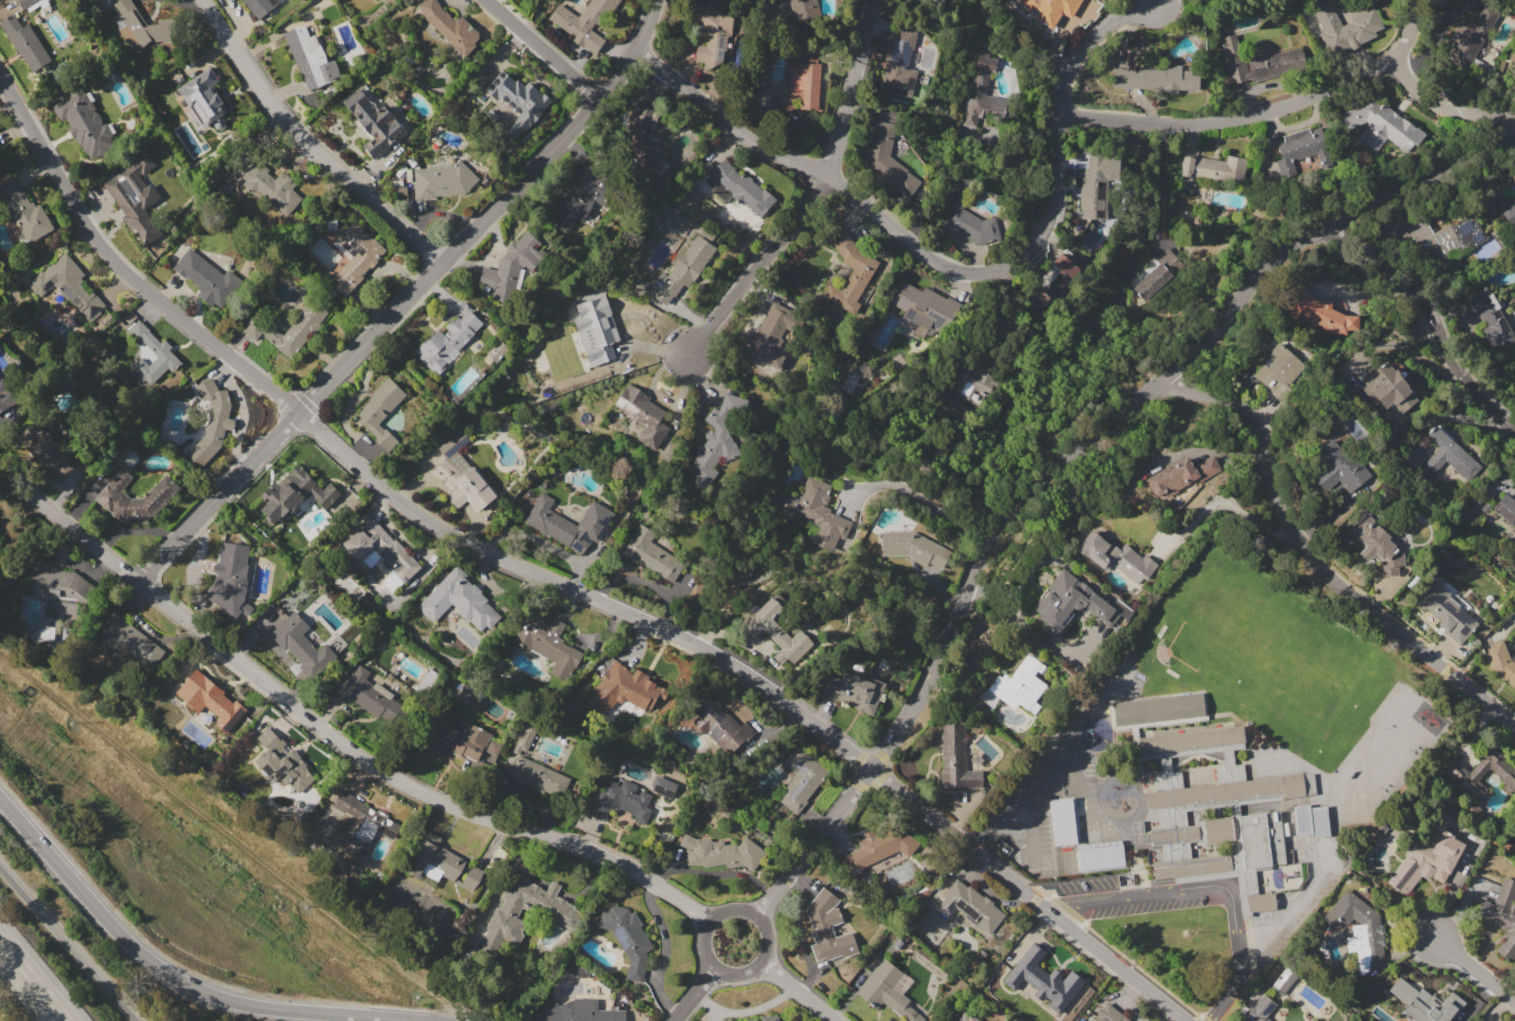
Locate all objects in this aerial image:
building: (940, 0)
road: (1151, 1)
building: (25, 3)
building: (260, 6)
building: (803, 6)
building: (1050, 9)
building: (582, 22)
building: (140, 26)
building: (450, 27)
building: (1343, 28)
building: (1472, 36)
building: (716, 39)
building: (25, 42)
road: (1084, 43)
road: (540, 49)
building: (310, 57)
building: (1259, 62)
building: (899, 63)
building: (1156, 78)
building: (803, 86)
road: (851, 88)
road: (1417, 90)
building: (522, 93)
building: (982, 93)
building: (204, 99)
building: (373, 122)
building: (84, 123)
building: (1384, 127)
building: (641, 139)
road: (311, 140)
building: (1301, 150)
building: (882, 156)
building: (1212, 170)
road: (1158, 180)
building: (442, 181)
building: (1097, 185)
building: (271, 188)
building: (741, 188)
building: (590, 195)
building: (135, 199)
building: (25, 213)
building: (1510, 215)
building: (966, 217)
building: (1445, 235)
road: (1034, 245)
building: (354, 257)
road: (758, 264)
building: (511, 267)
building: (681, 270)
building: (1157, 274)
building: (850, 276)
building: (204, 277)
building: (1051, 278)
building: (68, 287)
road: (406, 298)
building: (922, 303)
building: (1319, 312)
road: (1432, 319)
building: (1489, 321)
building: (599, 328)
building: (287, 329)
building: (448, 341)
building: (762, 346)
building: (497, 351)
building: (163, 353)
building: (1279, 371)
building: (971, 381)
building: (1388, 388)
building: (5, 395)
building: (381, 413)
building: (643, 415)
building: (211, 422)
building: (716, 441)
building: (452, 442)
building: (45, 449)
building: (1447, 456)
road: (1065, 458)
building: (1338, 468)
building: (1180, 475)
building: (464, 485)
building: (133, 498)
road: (916, 498)
building: (299, 501)
building: (1506, 508)
building: (814, 512)
building: (568, 524)
building: (1514, 529)
building: (1376, 545)
building: (912, 547)
building: (382, 555)
building: (654, 555)
building: (1114, 557)
road: (1318, 560)
building: (231, 580)
road: (558, 583)
building: (63, 589)
building: (458, 602)
building: (1070, 602)
building: (1445, 610)
building: (775, 631)
building: (132, 639)
building: (547, 643)
building: (301, 645)
building: (1501, 662)
building: (1020, 685)
building: (624, 689)
building: (854, 690)
building: (369, 695)
building: (216, 702)
building: (1157, 711)
building: (720, 726)
road: (332, 737)
building: (454, 738)
building: (520, 743)
building: (956, 759)
building: (282, 761)
building: (1479, 773)
building: (536, 777)
road: (1033, 778)
building: (802, 780)
building: (662, 786)
building: (1203, 798)
building: (620, 801)
road: (992, 820)
building: (1061, 821)
building: (1311, 821)
building: (362, 827)
building: (1261, 839)
building: (881, 844)
road: (1034, 846)
building: (721, 853)
building: (1098, 855)
building: (1064, 856)
building: (1426, 861)
building: (442, 864)
road: (1154, 895)
building: (1260, 902)
building: (969, 905)
road: (1063, 909)
building: (559, 913)
building: (1502, 917)
road: (711, 922)
building: (1358, 927)
building: (828, 928)
building: (627, 938)
road: (69, 943)
road: (1239, 962)
road: (1476, 975)
road: (178, 979)
building: (1045, 981)
road: (30, 983)
building: (1297, 988)
road: (796, 991)
building: (887, 992)
road: (694, 994)
building: (1426, 999)
building: (1260, 1010)
building: (578, 1011)
building: (1109, 1014)
building: (967, 1017)
building: (765, 1018)

